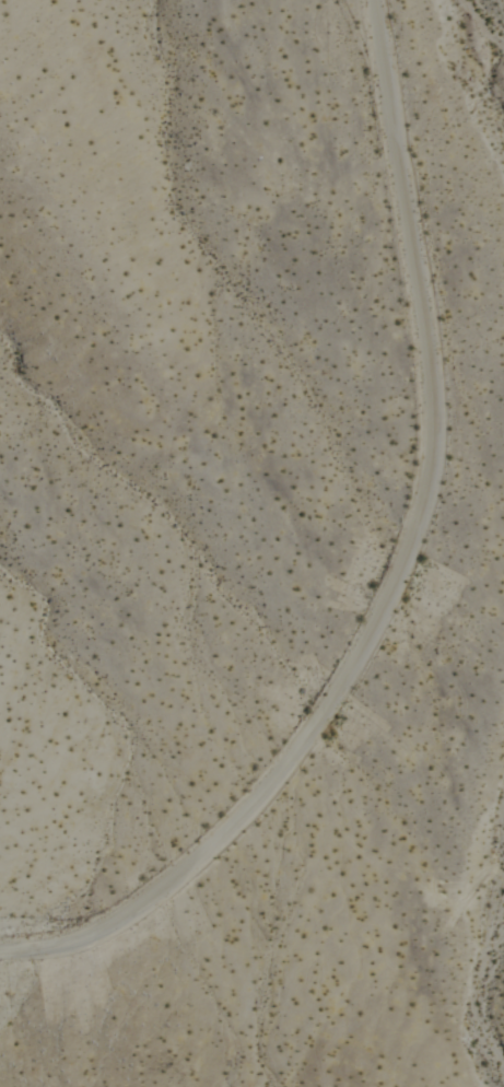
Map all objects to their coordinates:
road: (423, 258)
road: (239, 762)

